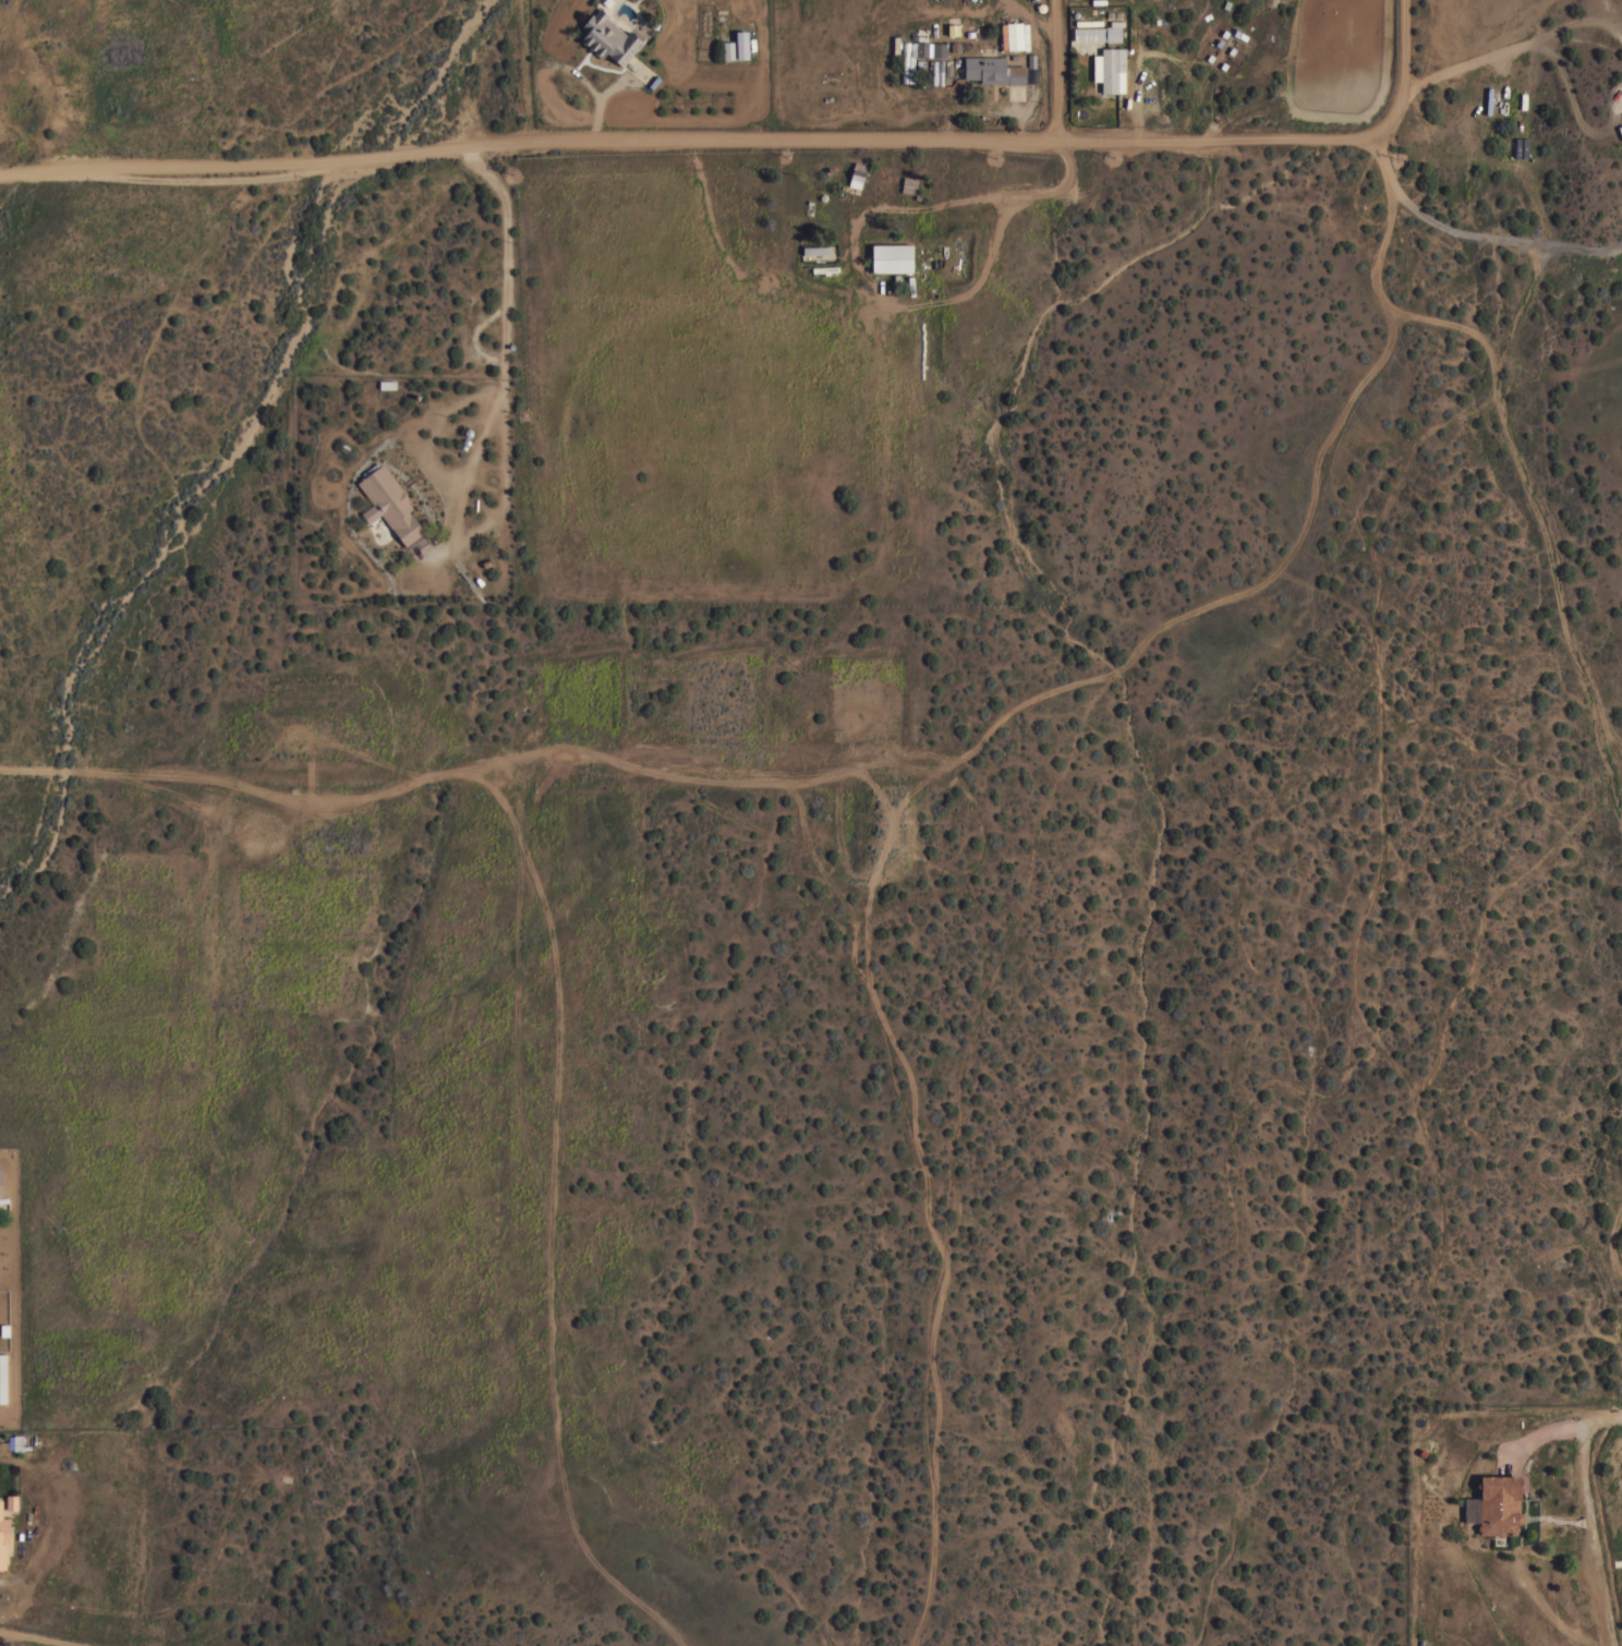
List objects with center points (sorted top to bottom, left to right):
road: (1574, 25)
building: (1097, 33)
building: (1014, 36)
building: (608, 37)
building: (741, 44)
building: (939, 48)
building: (728, 49)
building: (911, 58)
road: (1404, 62)
road: (1464, 64)
building: (1111, 66)
road: (1056, 68)
building: (993, 70)
road: (597, 105)
road: (1573, 105)
road: (698, 135)
building: (857, 174)
building: (908, 183)
road: (1472, 232)
building: (815, 251)
building: (892, 257)
road: (499, 388)
building: (389, 503)
road: (41, 767)
building: (0, 1183)
building: (3, 1378)
building: (1499, 1504)
road: (1585, 1517)
building: (3, 1537)
road: (40, 1636)

